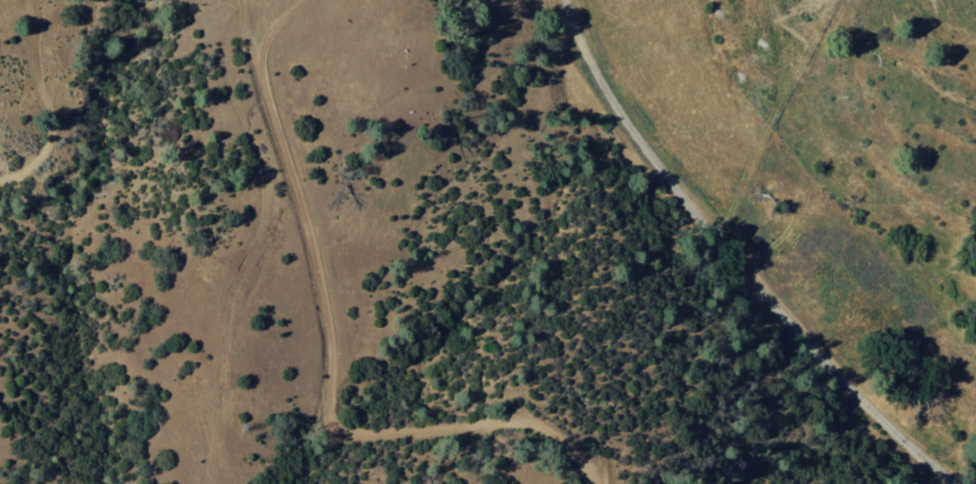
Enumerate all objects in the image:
road: (546, 24)
road: (729, 260)
road: (330, 353)

